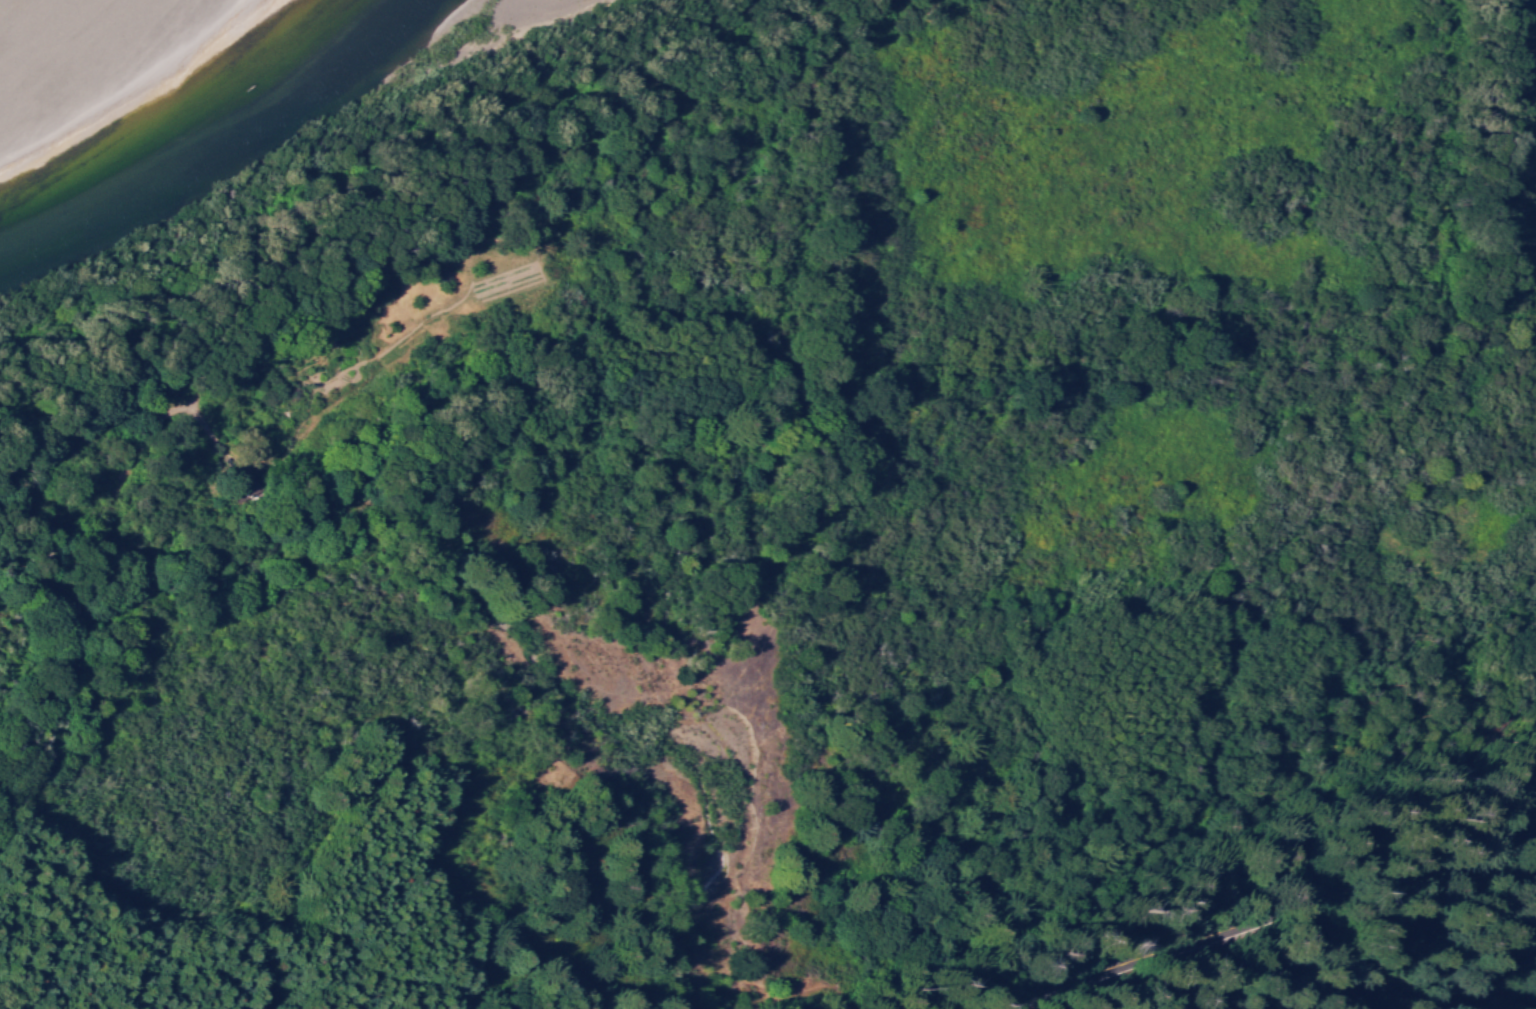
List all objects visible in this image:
river: (1, 1)
road: (383, 311)
road: (187, 471)
road: (1273, 923)

